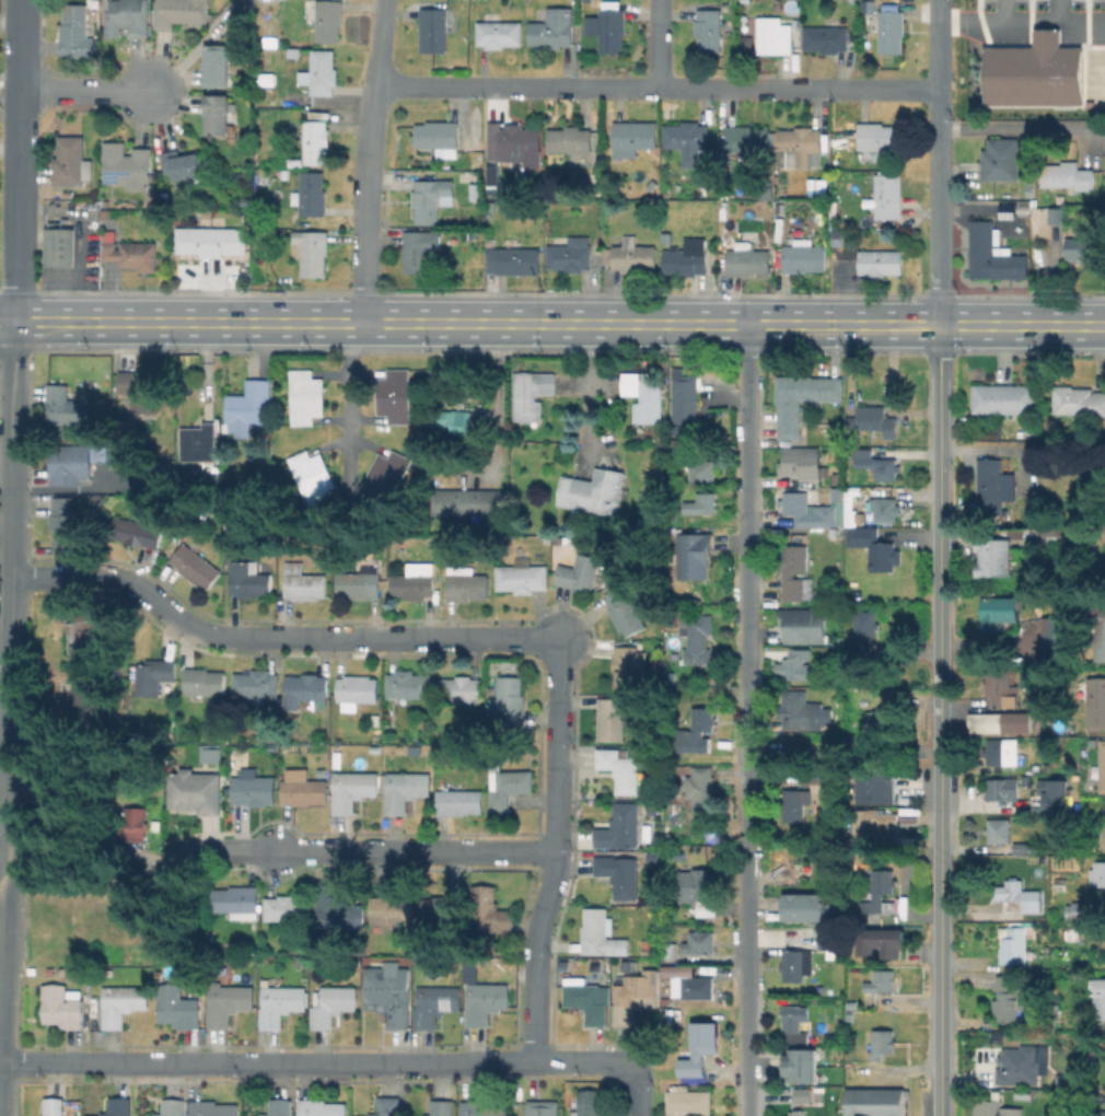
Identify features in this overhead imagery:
parking lot: (1042, 4)
road: (1001, 10)
road: (1055, 10)
building: (182, 12)
building: (130, 15)
building: (325, 18)
road: (968, 21)
road: (1052, 21)
building: (554, 28)
building: (612, 30)
building: (709, 30)
building: (77, 31)
building: (892, 31)
building: (433, 32)
building: (500, 34)
building: (775, 35)
building: (826, 38)
road: (15, 44)
road: (660, 44)
building: (218, 65)
building: (1032, 70)
building: (321, 72)
road: (658, 88)
road: (83, 90)
building: (218, 114)
road: (1021, 130)
building: (880, 136)
building: (439, 137)
building: (633, 137)
building: (570, 139)
building: (747, 140)
building: (316, 141)
building: (688, 141)
building: (517, 143)
building: (801, 143)
building: (1001, 159)
building: (72, 161)
road: (369, 161)
road: (937, 162)
building: (477, 163)
building: (183, 164)
building: (128, 165)
building: (1068, 175)
building: (474, 176)
building: (493, 178)
building: (405, 179)
building: (312, 194)
building: (888, 196)
building: (431, 198)
building: (247, 202)
road: (15, 205)
building: (781, 212)
building: (105, 216)
building: (1057, 216)
building: (668, 239)
building: (211, 240)
building: (60, 244)
building: (979, 247)
building: (420, 248)
building: (1083, 249)
building: (312, 251)
building: (131, 253)
building: (571, 254)
building: (631, 255)
building: (804, 256)
building: (515, 258)
building: (687, 258)
building: (748, 260)
building: (880, 261)
building: (1007, 264)
road: (551, 324)
building: (303, 383)
building: (392, 383)
building: (141, 390)
building: (532, 393)
building: (645, 395)
road: (590, 396)
road: (345, 397)
building: (985, 398)
building: (1016, 398)
road: (497, 399)
building: (1079, 399)
building: (685, 400)
building: (803, 400)
building: (66, 406)
building: (247, 408)
building: (303, 409)
building: (392, 409)
building: (871, 421)
building: (461, 427)
building: (199, 442)
building: (101, 454)
building: (801, 462)
building: (70, 463)
building: (876, 464)
building: (304, 465)
building: (389, 465)
building: (703, 470)
building: (990, 486)
building: (315, 489)
building: (379, 489)
building: (594, 491)
building: (469, 502)
building: (702, 503)
building: (794, 510)
building: (886, 510)
building: (65, 524)
building: (137, 533)
building: (1016, 534)
building: (1104, 535)
building: (1060, 537)
building: (572, 538)
building: (875, 547)
building: (695, 555)
building: (998, 560)
building: (196, 566)
building: (794, 570)
building: (580, 572)
building: (523, 578)
building: (249, 579)
building: (304, 582)
building: (416, 582)
building: (359, 583)
building: (466, 583)
building: (626, 611)
building: (999, 612)
building: (803, 624)
building: (866, 625)
building: (1098, 629)
building: (1057, 631)
building: (91, 633)
building: (697, 637)
road: (276, 638)
building: (1054, 656)
road: (4, 662)
building: (799, 664)
building: (627, 666)
building: (154, 675)
building: (205, 684)
building: (257, 685)
building: (409, 686)
building: (358, 688)
building: (1000, 688)
building: (462, 690)
building: (306, 693)
building: (511, 699)
building: (1096, 702)
building: (90, 707)
building: (800, 711)
building: (612, 720)
road: (748, 720)
road: (940, 720)
building: (1017, 721)
building: (985, 723)
building: (700, 730)
building: (877, 730)
building: (831, 744)
building: (1002, 752)
building: (211, 757)
building: (1103, 766)
building: (620, 768)
building: (824, 778)
building: (508, 788)
building: (254, 789)
building: (354, 789)
building: (406, 789)
building: (702, 790)
building: (305, 791)
building: (884, 791)
building: (1000, 791)
building: (199, 794)
building: (1056, 801)
building: (460, 802)
building: (795, 804)
building: (672, 814)
building: (909, 821)
building: (138, 824)
building: (876, 825)
building: (620, 827)
building: (998, 829)
building: (1103, 829)
building: (1024, 848)
road: (557, 850)
road: (364, 851)
building: (1097, 873)
building: (621, 874)
road: (1, 886)
building: (700, 888)
building: (1104, 890)
building: (881, 892)
building: (1017, 896)
building: (239, 902)
building: (337, 908)
building: (810, 908)
building: (289, 909)
building: (393, 909)
building: (1079, 910)
building: (490, 911)
building: (440, 914)
building: (602, 933)
building: (828, 939)
building: (700, 942)
building: (882, 943)
building: (1014, 945)
building: (671, 952)
building: (302, 958)
building: (798, 964)
building: (50, 970)
building: (882, 981)
building: (693, 988)
building: (389, 992)
building: (1098, 996)
building: (726, 999)
building: (1009, 1000)
building: (486, 1001)
building: (588, 1002)
building: (635, 1002)
building: (121, 1003)
building: (230, 1003)
building: (281, 1003)
building: (333, 1004)
building: (435, 1004)
building: (62, 1005)
building: (178, 1007)
building: (1054, 1013)
building: (671, 1015)
building: (796, 1023)
building: (880, 1043)
building: (697, 1050)
building: (1090, 1055)
road: (315, 1062)
building: (799, 1065)
building: (1017, 1067)
building: (1061, 1082)
road: (640, 1090)
building: (800, 1094)
building: (688, 1102)
building: (873, 1102)
building: (591, 1103)
building: (55, 1106)
building: (119, 1106)
building: (388, 1106)
building: (173, 1107)
building: (281, 1107)
building: (322, 1107)
building: (442, 1107)
building: (544, 1107)
building: (214, 1108)
building: (484, 1108)
building: (993, 1109)
building: (796, 1113)
building: (1100, 1113)
building: (790, 1114)

